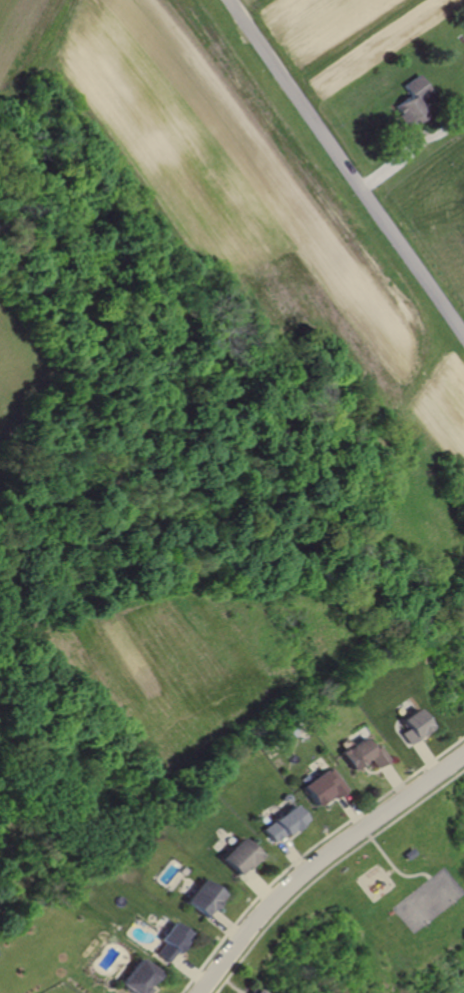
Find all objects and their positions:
crop: (17, 34)
crop: (344, 36)
building: (417, 103)
crop: (212, 157)
road: (347, 164)
crop: (445, 404)
crop: (187, 666)
building: (412, 726)
building: (360, 754)
road: (422, 756)
road: (390, 779)
building: (321, 786)
road: (347, 809)
building: (281, 823)
road: (374, 847)
road: (309, 849)
building: (408, 852)
building: (239, 856)
road: (289, 856)
road: (319, 858)
road: (327, 866)
road: (405, 874)
road: (256, 885)
park: (403, 887)
park: (440, 891)
building: (202, 897)
park: (415, 912)
road: (225, 924)
building: (174, 941)
road: (189, 969)
building: (141, 977)
building: (253, 990)

